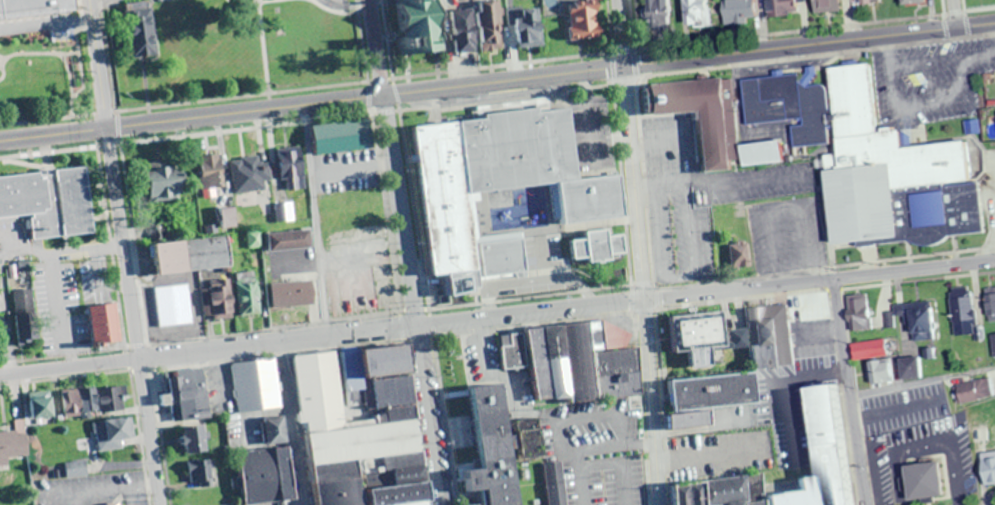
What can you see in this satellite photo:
building: (869, 0)
building: (911, 1)
building: (828, 5)
building: (34, 6)
road: (939, 6)
building: (780, 7)
road: (959, 8)
road: (976, 8)
building: (738, 11)
road: (950, 11)
building: (698, 12)
building: (658, 13)
road: (950, 13)
road: (939, 16)
building: (585, 18)
road: (961, 24)
building: (492, 25)
building: (529, 25)
building: (422, 26)
road: (634, 26)
road: (940, 27)
road: (613, 28)
building: (144, 29)
building: (465, 30)
road: (787, 31)
road: (623, 32)
road: (962, 36)
road: (943, 38)
road: (390, 41)
road: (365, 43)
road: (810, 44)
road: (624, 50)
road: (111, 55)
road: (814, 55)
road: (503, 64)
road: (637, 68)
road: (616, 69)
building: (32, 75)
road: (383, 78)
road: (627, 82)
road: (399, 92)
road: (246, 95)
road: (371, 97)
road: (507, 100)
road: (313, 103)
road: (401, 105)
road: (371, 110)
road: (108, 111)
road: (387, 111)
road: (122, 112)
building: (704, 114)
road: (50, 119)
road: (122, 125)
road: (251, 127)
building: (340, 138)
road: (122, 139)
road: (114, 144)
building: (518, 150)
road: (53, 152)
building: (763, 155)
building: (874, 160)
building: (293, 164)
building: (213, 172)
building: (252, 175)
building: (166, 181)
building: (445, 199)
building: (51, 200)
building: (230, 218)
road: (317, 220)
building: (291, 240)
building: (599, 248)
road: (126, 252)
road: (408, 252)
building: (741, 254)
building: (195, 255)
road: (644, 284)
building: (249, 295)
building: (294, 297)
building: (219, 300)
building: (990, 304)
building: (962, 308)
building: (859, 313)
building: (23, 314)
road: (497, 315)
building: (918, 322)
building: (105, 328)
building: (771, 337)
building: (702, 338)
building: (870, 350)
building: (575, 362)
building: (913, 369)
building: (884, 372)
building: (256, 386)
road: (850, 391)
building: (973, 392)
building: (189, 396)
building: (708, 398)
building: (94, 402)
building: (42, 406)
road: (294, 423)
building: (363, 430)
building: (274, 431)
building: (981, 431)
building: (833, 432)
building: (113, 435)
building: (195, 440)
building: (13, 445)
building: (493, 447)
parking lot: (597, 449)
building: (989, 468)
building: (76, 470)
building: (197, 473)
building: (266, 476)
building: (931, 481)
building: (553, 484)
building: (688, 494)

